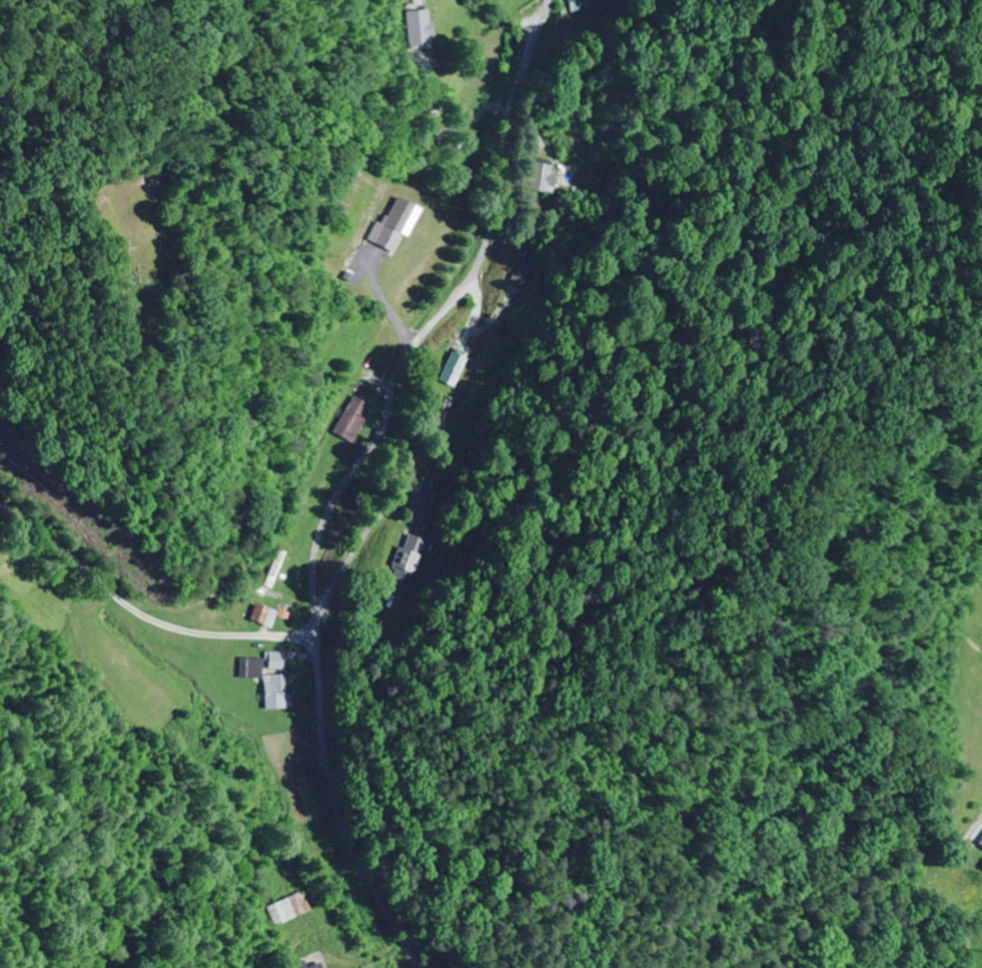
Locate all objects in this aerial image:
road: (391, 12)
building: (417, 28)
building: (537, 175)
road: (475, 202)
building: (399, 216)
building: (449, 367)
building: (351, 420)
road: (359, 477)
building: (404, 558)
building: (275, 569)
building: (275, 661)
building: (265, 682)
building: (980, 844)
building: (287, 908)
building: (310, 965)

